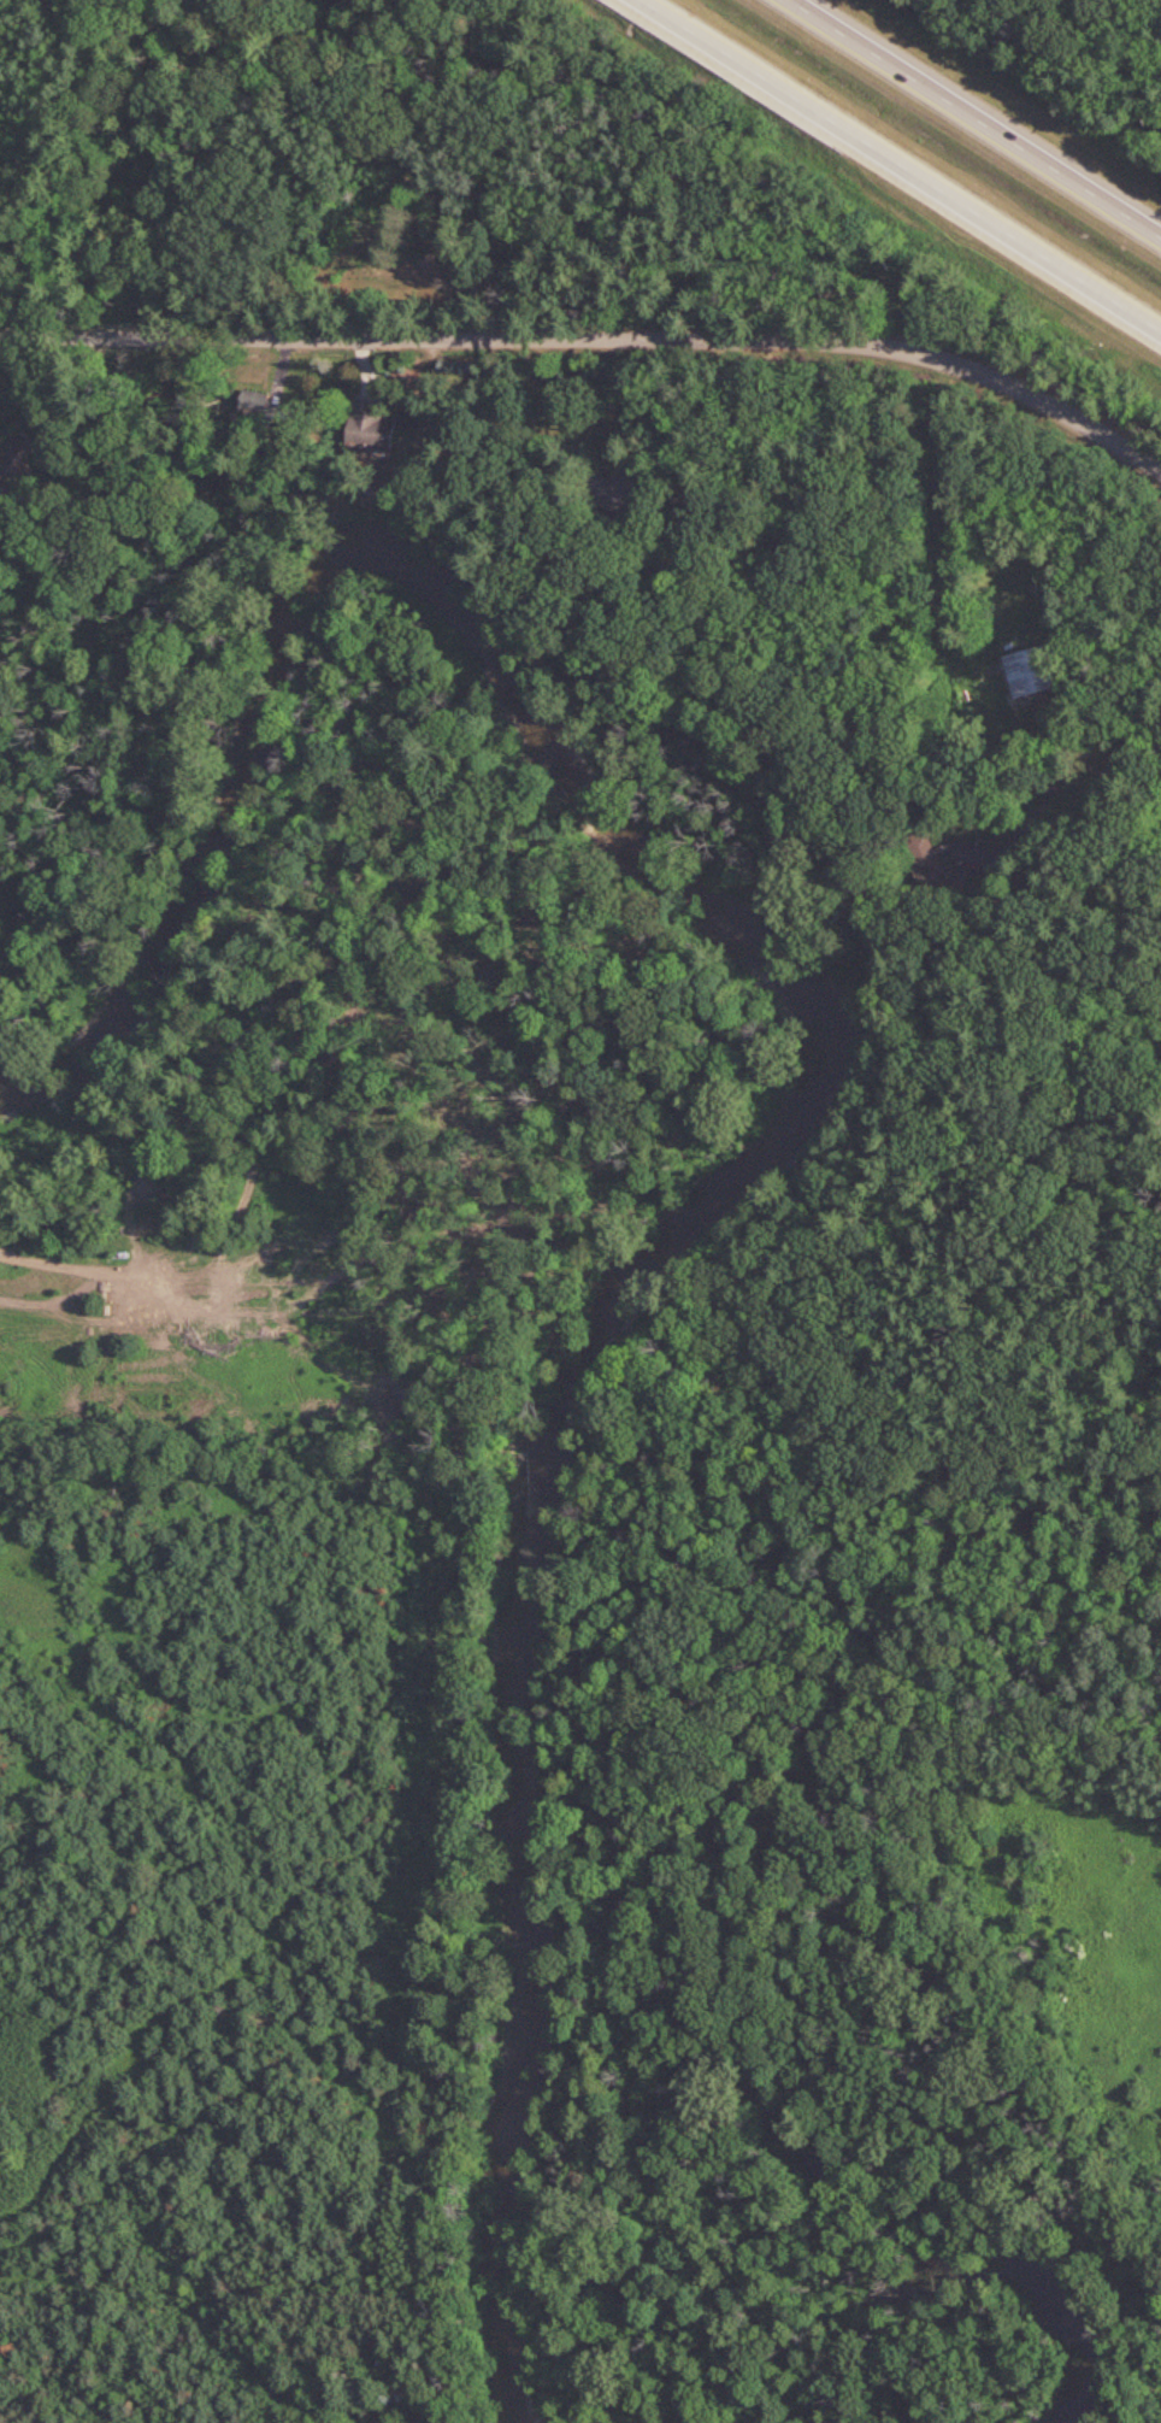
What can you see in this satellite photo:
road: (976, 117)
road: (902, 164)
road: (594, 342)
building: (372, 427)
building: (16, 465)
building: (614, 487)
road: (945, 523)
building: (1035, 669)
river: (813, 1098)

